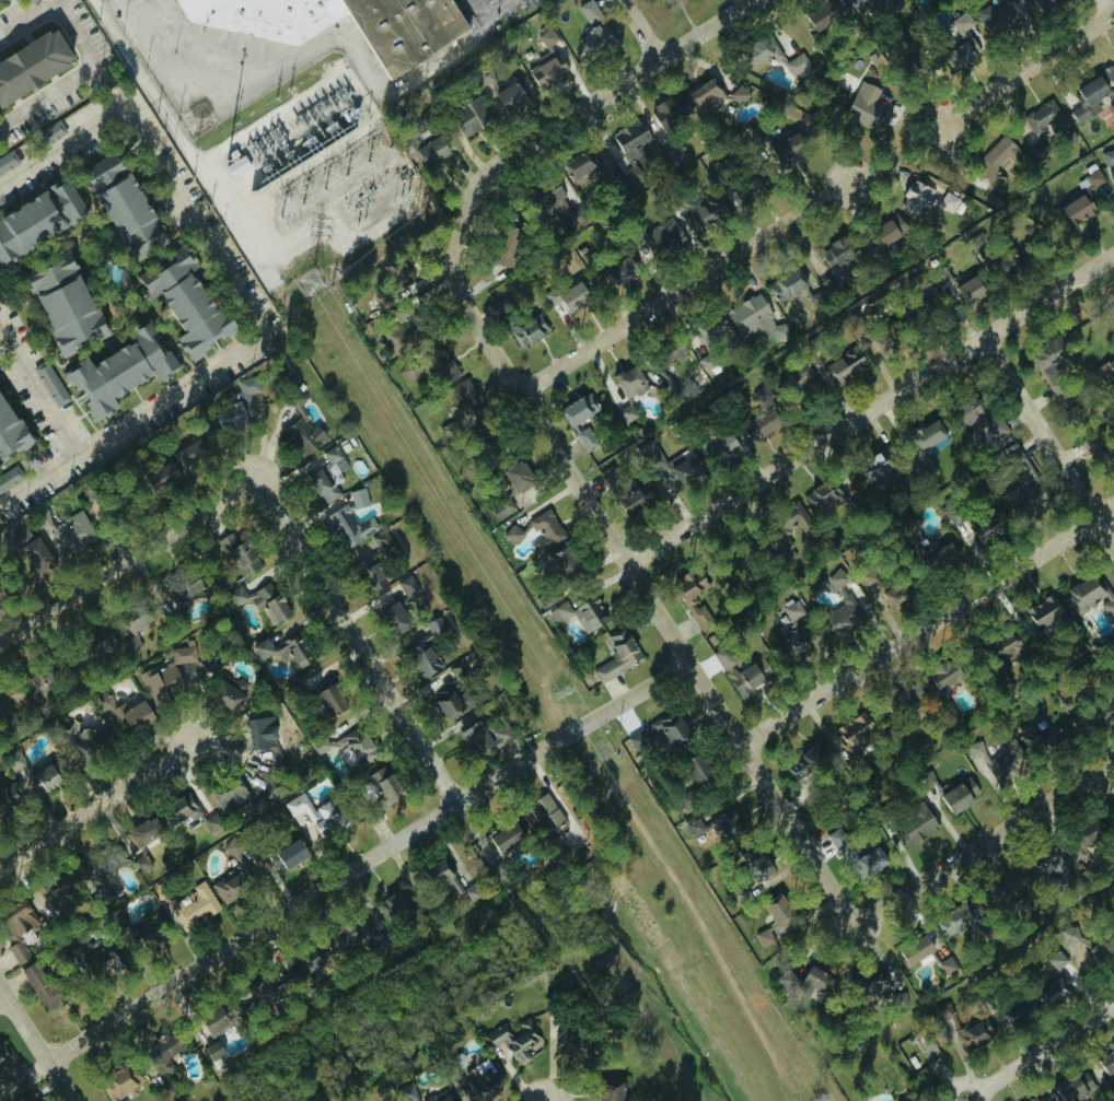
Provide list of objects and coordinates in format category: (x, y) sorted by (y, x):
building: (0, 0)
building: (5, 0)
building: (9, 0)
building: (664, 1)
building: (856, 3)
building: (1043, 5)
building: (894, 7)
road: (1110, 7)
building: (589, 12)
road: (487, 14)
building: (822, 15)
building: (999, 17)
road: (641, 30)
building: (542, 36)
building: (403, 37)
building: (961, 39)
building: (595, 40)
road: (89, 50)
building: (761, 50)
building: (31, 57)
building: (797, 66)
road: (1028, 69)
building: (546, 71)
building: (1110, 75)
road: (144, 84)
road: (608, 92)
building: (513, 93)
building: (739, 94)
building: (706, 95)
road: (359, 96)
building: (1088, 98)
building: (867, 108)
building: (666, 112)
building: (471, 116)
building: (1047, 124)
building: (631, 139)
road: (61, 145)
building: (431, 151)
building: (790, 151)
building: (1107, 157)
building: (7, 161)
building: (998, 162)
building: (580, 163)
building: (237, 165)
building: (719, 166)
power substation: (311, 180)
building: (747, 183)
building: (916, 197)
building: (1081, 198)
building: (547, 201)
building: (948, 201)
building: (121, 207)
building: (704, 211)
building: (37, 218)
road: (235, 226)
building: (662, 230)
building: (885, 231)
building: (506, 248)
building: (839, 255)
building: (623, 263)
building: (1006, 265)
building: (397, 273)
building: (941, 278)
power tower: (313, 282)
building: (788, 283)
road: (684, 286)
building: (571, 289)
building: (970, 290)
building: (816, 297)
building: (382, 303)
building: (186, 304)
building: (62, 305)
building: (754, 318)
building: (534, 323)
road: (683, 324)
building: (708, 327)
park: (1091, 328)
building: (401, 339)
building: (882, 339)
road: (244, 347)
building: (675, 352)
building: (707, 362)
building: (442, 365)
building: (845, 366)
building: (119, 370)
building: (1105, 370)
building: (410, 371)
building: (808, 382)
building: (629, 383)
building: (51, 385)
building: (666, 387)
road: (37, 389)
building: (761, 394)
building: (462, 398)
road: (870, 408)
building: (578, 409)
building: (626, 413)
building: (970, 414)
building: (761, 424)
building: (452, 427)
building: (301, 429)
building: (997, 429)
building: (10, 432)
building: (927, 435)
road: (1048, 438)
building: (585, 440)
building: (718, 446)
building: (1090, 446)
building: (195, 448)
building: (1110, 459)
building: (684, 468)
building: (874, 470)
building: (327, 476)
building: (517, 477)
building: (9, 478)
building: (608, 478)
building: (160, 479)
building: (358, 497)
building: (639, 497)
building: (823, 499)
building: (1026, 501)
building: (501, 507)
building: (42, 518)
building: (792, 518)
building: (349, 525)
building: (989, 527)
building: (546, 530)
building: (71, 534)
building: (512, 534)
building: (382, 541)
building: (239, 554)
building: (36, 555)
building: (942, 557)
road: (128, 559)
building: (732, 561)
building: (564, 563)
road: (629, 564)
building: (372, 571)
building: (837, 578)
building: (407, 587)
building: (185, 592)
building: (236, 596)
building: (1091, 596)
building: (687, 599)
building: (267, 602)
building: (880, 605)
building: (792, 611)
building: (581, 613)
building: (1042, 614)
building: (395, 618)
building: (136, 620)
road: (927, 624)
road: (357, 640)
building: (109, 644)
building: (792, 645)
building: (262, 649)
building: (426, 649)
building: (1005, 649)
building: (293, 652)
building: (183, 654)
building: (617, 656)
building: (723, 658)
building: (211, 665)
building: (943, 675)
building: (44, 679)
building: (747, 680)
building: (161, 682)
power tower: (562, 689)
building: (228, 693)
building: (10, 699)
building: (905, 699)
building: (330, 701)
building: (451, 702)
building: (1107, 706)
building: (125, 714)
building: (854, 729)
building: (657, 734)
building: (262, 736)
building: (484, 738)
building: (1045, 738)
building: (90, 741)
building: (318, 745)
building: (357, 746)
building: (998, 760)
building: (809, 761)
building: (32, 774)
building: (385, 786)
building: (270, 795)
building: (960, 796)
building: (229, 797)
building: (8, 798)
road: (97, 805)
building: (182, 806)
building: (1111, 812)
building: (316, 815)
building: (543, 817)
building: (211, 823)
building: (695, 828)
building: (912, 830)
building: (143, 832)
building: (1089, 834)
building: (506, 839)
road: (984, 841)
building: (554, 846)
building: (851, 854)
building: (288, 855)
road: (368, 858)
building: (1049, 863)
building: (142, 866)
building: (754, 869)
building: (235, 875)
building: (449, 882)
building: (997, 888)
building: (54, 893)
building: (742, 895)
building: (192, 906)
building: (394, 906)
road: (700, 920)
building: (954, 920)
building: (18, 927)
building: (148, 934)
building: (351, 937)
building: (764, 937)
building: (1069, 937)
building: (1103, 951)
building: (914, 952)
building: (1057, 960)
building: (102, 961)
building: (305, 964)
building: (947, 967)
building: (807, 983)
building: (38, 986)
building: (874, 988)
building: (1054, 992)
road: (2, 995)
building: (1017, 1009)
building: (219, 1020)
building: (973, 1034)
building: (513, 1040)
road: (36, 1043)
building: (572, 1045)
road: (1043, 1049)
building: (929, 1052)
building: (212, 1054)
building: (161, 1057)
building: (1107, 1065)
building: (474, 1078)
building: (1070, 1090)
building: (406, 1093)
building: (611, 1094)
building: (441, 1096)
power tower: (817, 1097)
building: (912, 1100)

